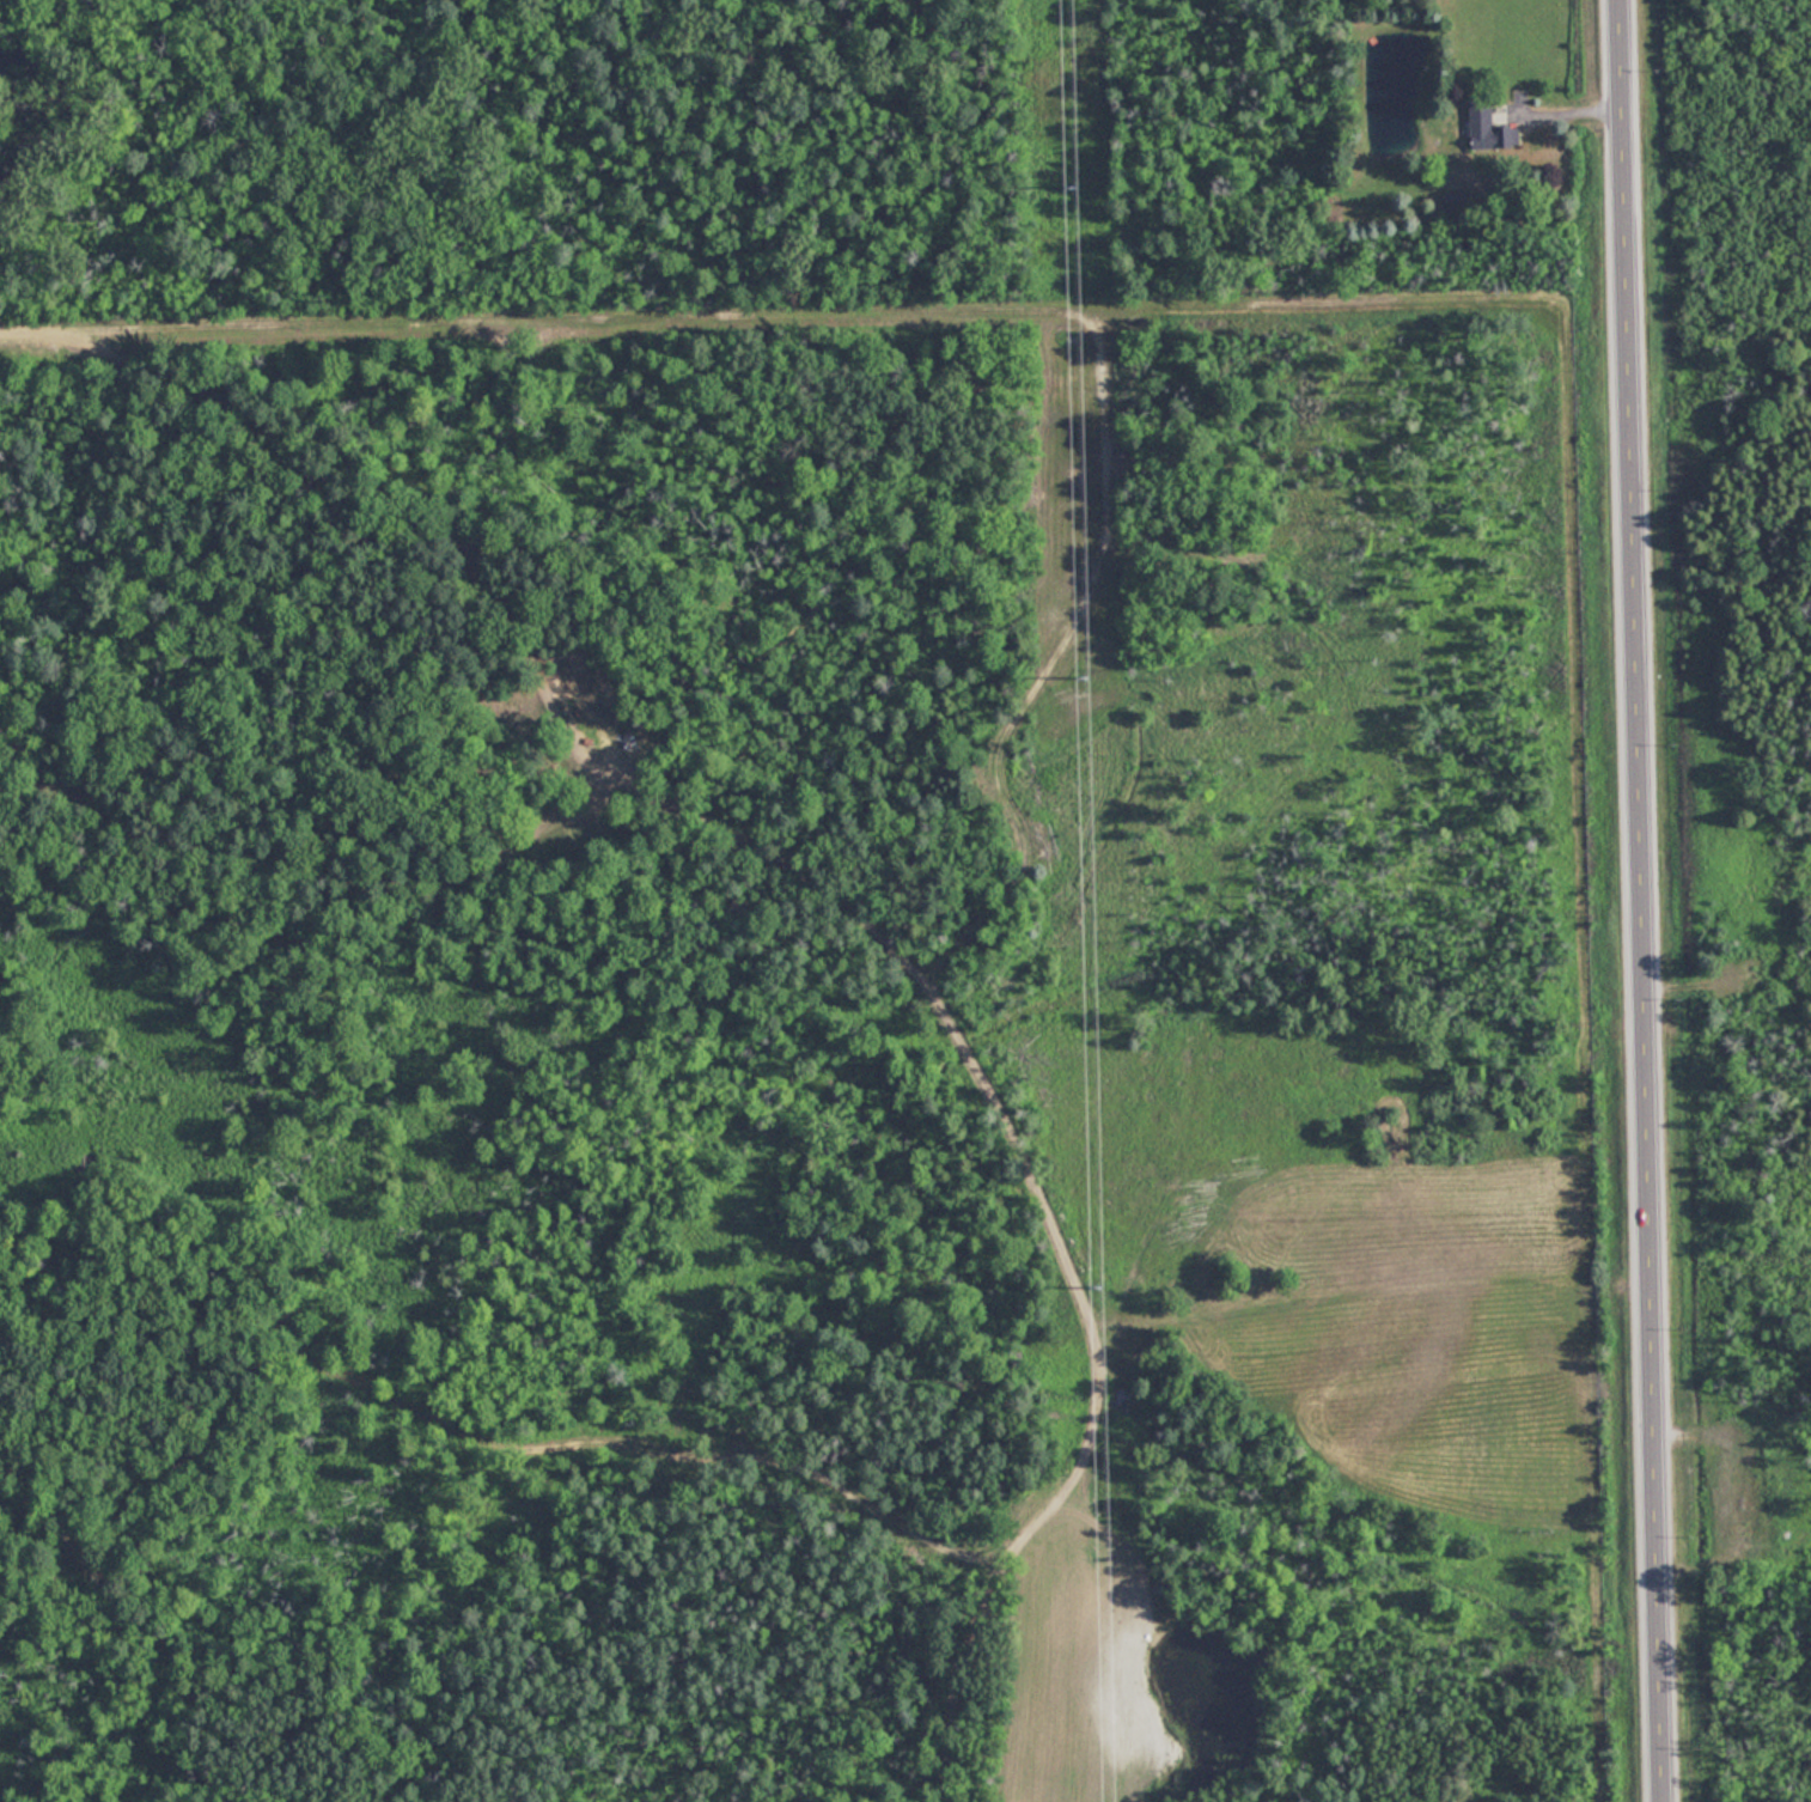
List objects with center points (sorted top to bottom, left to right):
building: (1487, 128)
park: (656, 154)
power tower: (1073, 190)
park: (1717, 672)
power tower: (1083, 680)
road: (1642, 900)
power tower: (1099, 1287)

